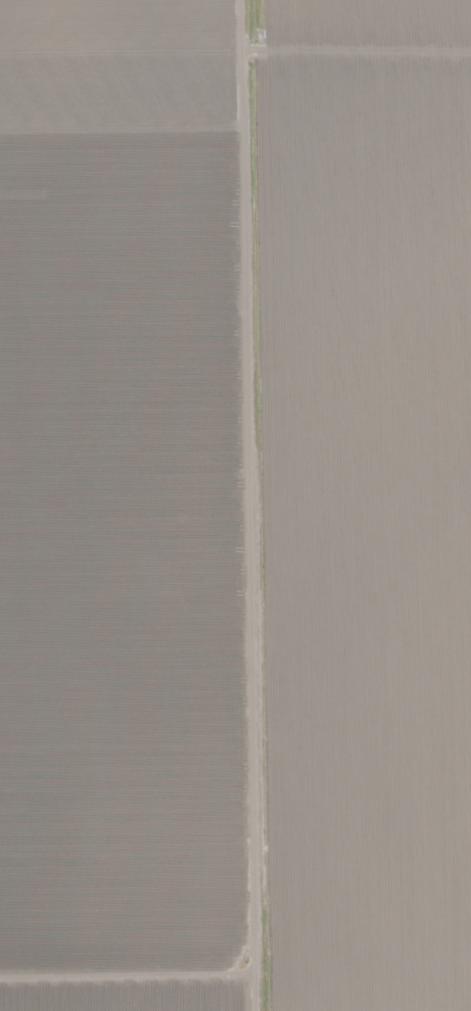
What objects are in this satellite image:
road: (258, 505)

